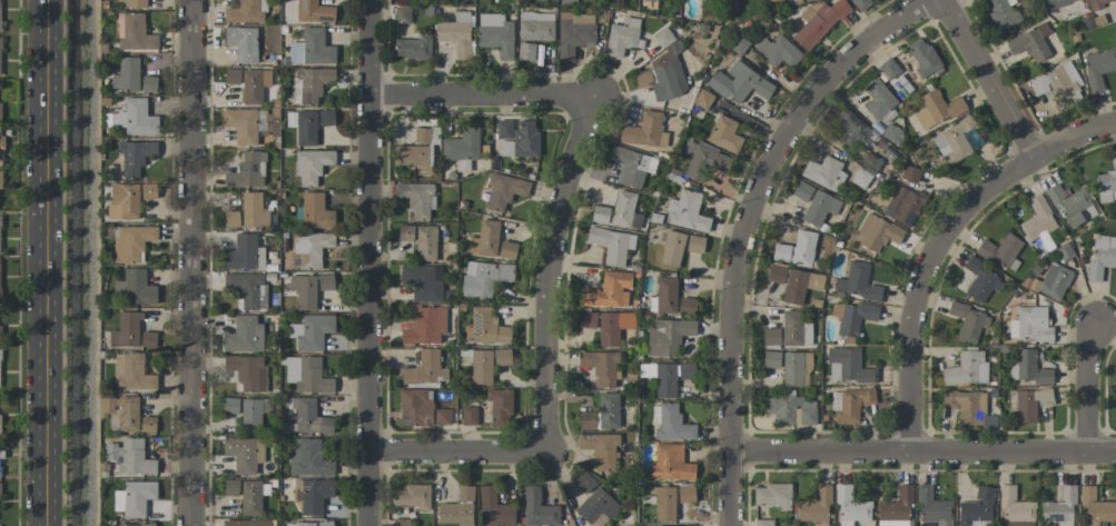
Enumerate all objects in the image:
building: (649, 0)
building: (780, 0)
building: (1017, 0)
building: (567, 1)
building: (1098, 2)
building: (134, 3)
building: (1055, 3)
building: (860, 4)
building: (0, 10)
building: (246, 12)
building: (314, 12)
building: (1000, 13)
building: (402, 14)
building: (817, 23)
building: (535, 27)
building: (134, 32)
building: (455, 33)
building: (574, 33)
building: (495, 34)
building: (622, 36)
building: (241, 43)
building: (1030, 43)
building: (413, 48)
building: (310, 49)
building: (525, 51)
building: (777, 51)
building: (0, 52)
building: (922, 58)
building: (889, 68)
building: (1098, 68)
building: (668, 71)
building: (126, 75)
building: (231, 77)
road: (987, 78)
building: (642, 79)
building: (1057, 81)
building: (739, 83)
building: (148, 85)
building: (254, 85)
building: (309, 85)
road: (481, 95)
building: (703, 99)
building: (877, 99)
building: (936, 109)
building: (0, 110)
building: (136, 118)
building: (325, 118)
building: (245, 125)
building: (303, 127)
building: (851, 130)
building: (645, 131)
building: (724, 135)
building: (426, 136)
building: (517, 139)
building: (954, 140)
building: (1, 146)
building: (462, 148)
building: (135, 156)
building: (415, 158)
building: (703, 161)
building: (312, 165)
building: (631, 166)
building: (247, 171)
building: (824, 173)
building: (0, 180)
building: (1107, 183)
building: (148, 191)
building: (504, 191)
building: (801, 191)
building: (416, 199)
building: (128, 201)
building: (903, 206)
building: (1070, 206)
building: (819, 208)
building: (253, 210)
building: (624, 210)
building: (687, 211)
building: (315, 212)
building: (600, 215)
building: (230, 219)
building: (1037, 220)
building: (0, 221)
road: (744, 226)
building: (405, 232)
building: (878, 232)
building: (484, 239)
road: (939, 240)
building: (131, 242)
building: (425, 244)
building: (694, 244)
building: (611, 245)
building: (803, 246)
building: (672, 248)
building: (306, 250)
building: (506, 250)
building: (780, 251)
building: (1000, 251)
building: (245, 254)
building: (1102, 256)
road: (48, 262)
road: (191, 262)
road: (368, 262)
road: (550, 271)
building: (776, 274)
building: (483, 278)
building: (325, 281)
building: (422, 281)
building: (981, 281)
building: (1054, 281)
building: (857, 282)
building: (800, 285)
building: (1115, 287)
building: (134, 288)
building: (247, 289)
building: (609, 290)
building: (304, 291)
building: (0, 295)
building: (665, 296)
building: (687, 305)
building: (851, 317)
building: (586, 319)
building: (969, 322)
building: (1029, 325)
building: (424, 326)
building: (613, 327)
building: (485, 328)
building: (794, 329)
building: (126, 330)
building: (310, 331)
building: (0, 334)
building: (244, 336)
building: (668, 336)
building: (771, 337)
building: (148, 339)
building: (771, 359)
building: (486, 364)
building: (847, 366)
building: (600, 367)
building: (794, 367)
building: (1031, 368)
building: (425, 369)
building: (966, 369)
building: (247, 371)
building: (132, 373)
building: (306, 375)
building: (669, 377)
road: (1086, 388)
building: (1030, 404)
building: (230, 405)
building: (849, 405)
building: (966, 406)
building: (415, 407)
building: (498, 407)
building: (789, 409)
building: (608, 410)
building: (253, 414)
building: (132, 416)
building: (468, 416)
building: (442, 417)
building: (310, 418)
building: (586, 420)
building: (0, 424)
building: (670, 424)
building: (600, 448)
road: (921, 450)
road: (455, 451)
building: (244, 454)
building: (129, 457)
building: (0, 463)
building: (670, 464)
building: (585, 482)
building: (230, 487)
building: (0, 493)
building: (685, 494)
building: (312, 495)
building: (413, 496)
building: (772, 496)
building: (134, 498)
building: (250, 498)
building: (663, 504)
building: (816, 507)
building: (850, 507)
building: (932, 507)
building: (1059, 507)
building: (457, 508)
building: (537, 508)
building: (596, 508)
building: (896, 508)
building: (977, 508)
building: (1015, 508)
building: (1094, 508)
building: (494, 509)
building: (401, 522)
building: (246, 523)
building: (324, 523)
building: (763, 523)
building: (299, 524)
building: (135, 525)

